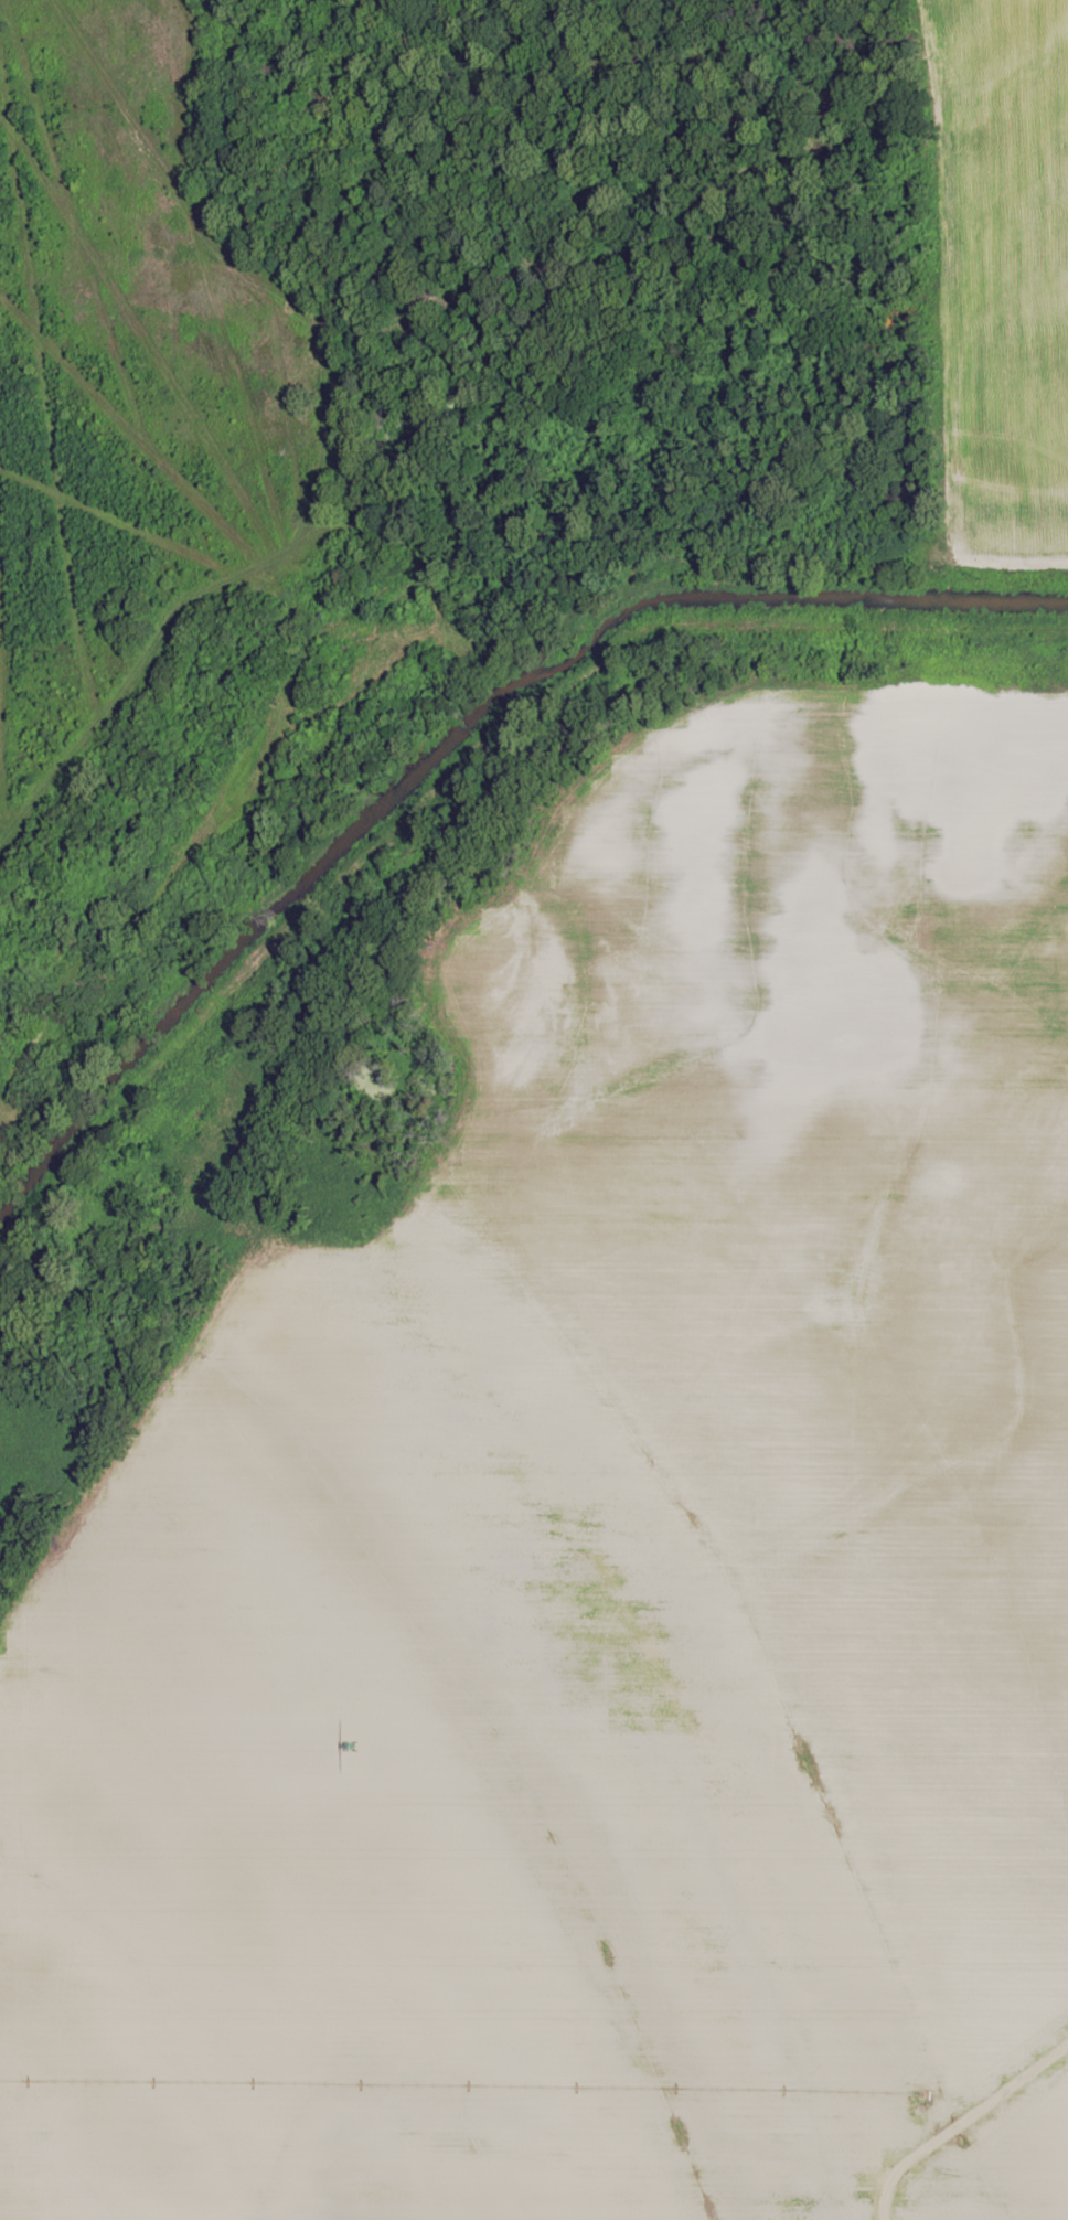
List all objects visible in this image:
road: (1010, 534)
road: (960, 2121)

